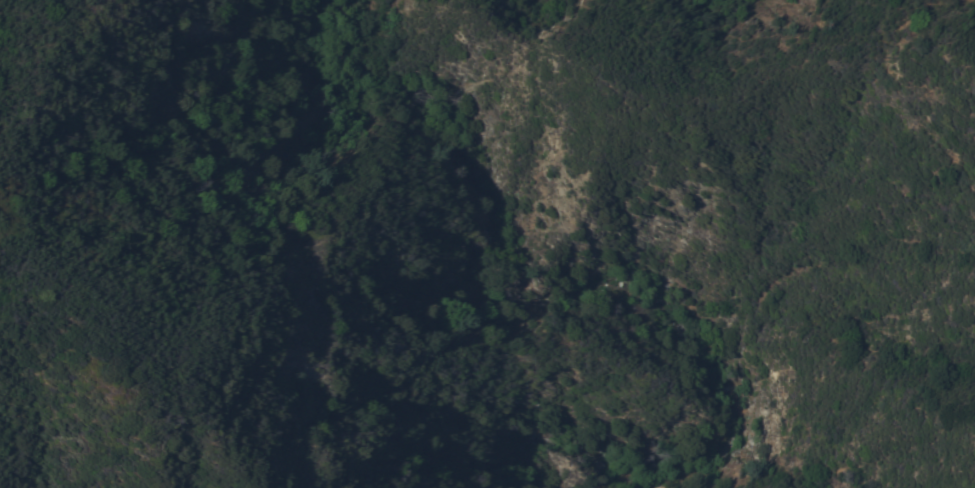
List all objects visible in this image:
road: (164, 191)
road: (893, 224)

